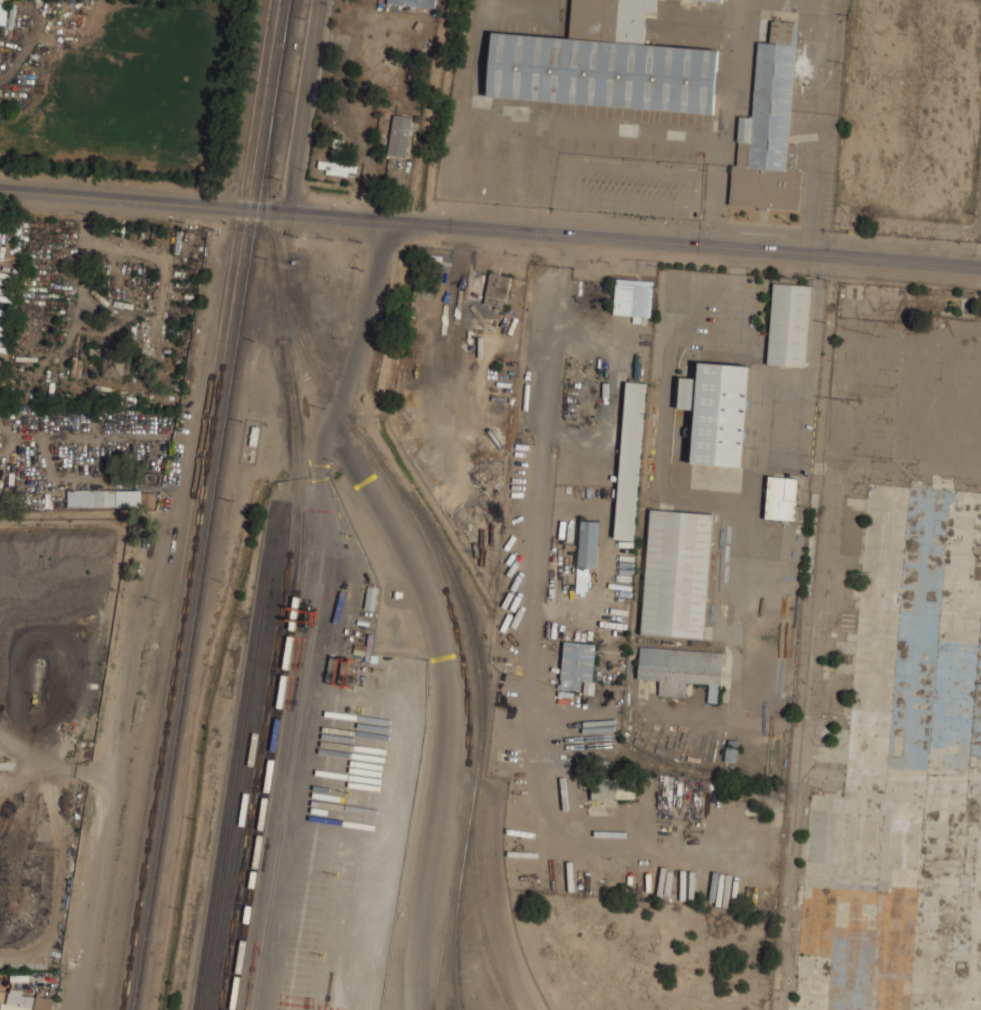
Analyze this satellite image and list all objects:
building: (713, 0)
building: (412, 2)
building: (2, 11)
railway: (286, 22)
railway: (288, 22)
railway: (281, 62)
building: (605, 63)
road: (727, 69)
railway: (270, 70)
road: (306, 107)
railway: (274, 111)
building: (768, 129)
building: (399, 136)
road: (697, 137)
building: (338, 168)
road: (129, 198)
road: (619, 240)
building: (496, 290)
building: (632, 297)
railway: (285, 300)
building: (788, 324)
building: (113, 361)
building: (717, 411)
road: (551, 431)
building: (630, 460)
building: (111, 496)
building: (781, 497)
road: (730, 504)
railway: (194, 505)
road: (334, 535)
building: (588, 543)
building: (676, 573)
railway: (191, 574)
railway: (202, 575)
building: (371, 598)
road: (423, 602)
railway: (291, 632)
building: (576, 663)
building: (680, 669)
road: (125, 714)
road: (531, 724)
railway: (481, 725)
railway: (470, 726)
building: (612, 787)
railway: (458, 900)
building: (25, 1001)

